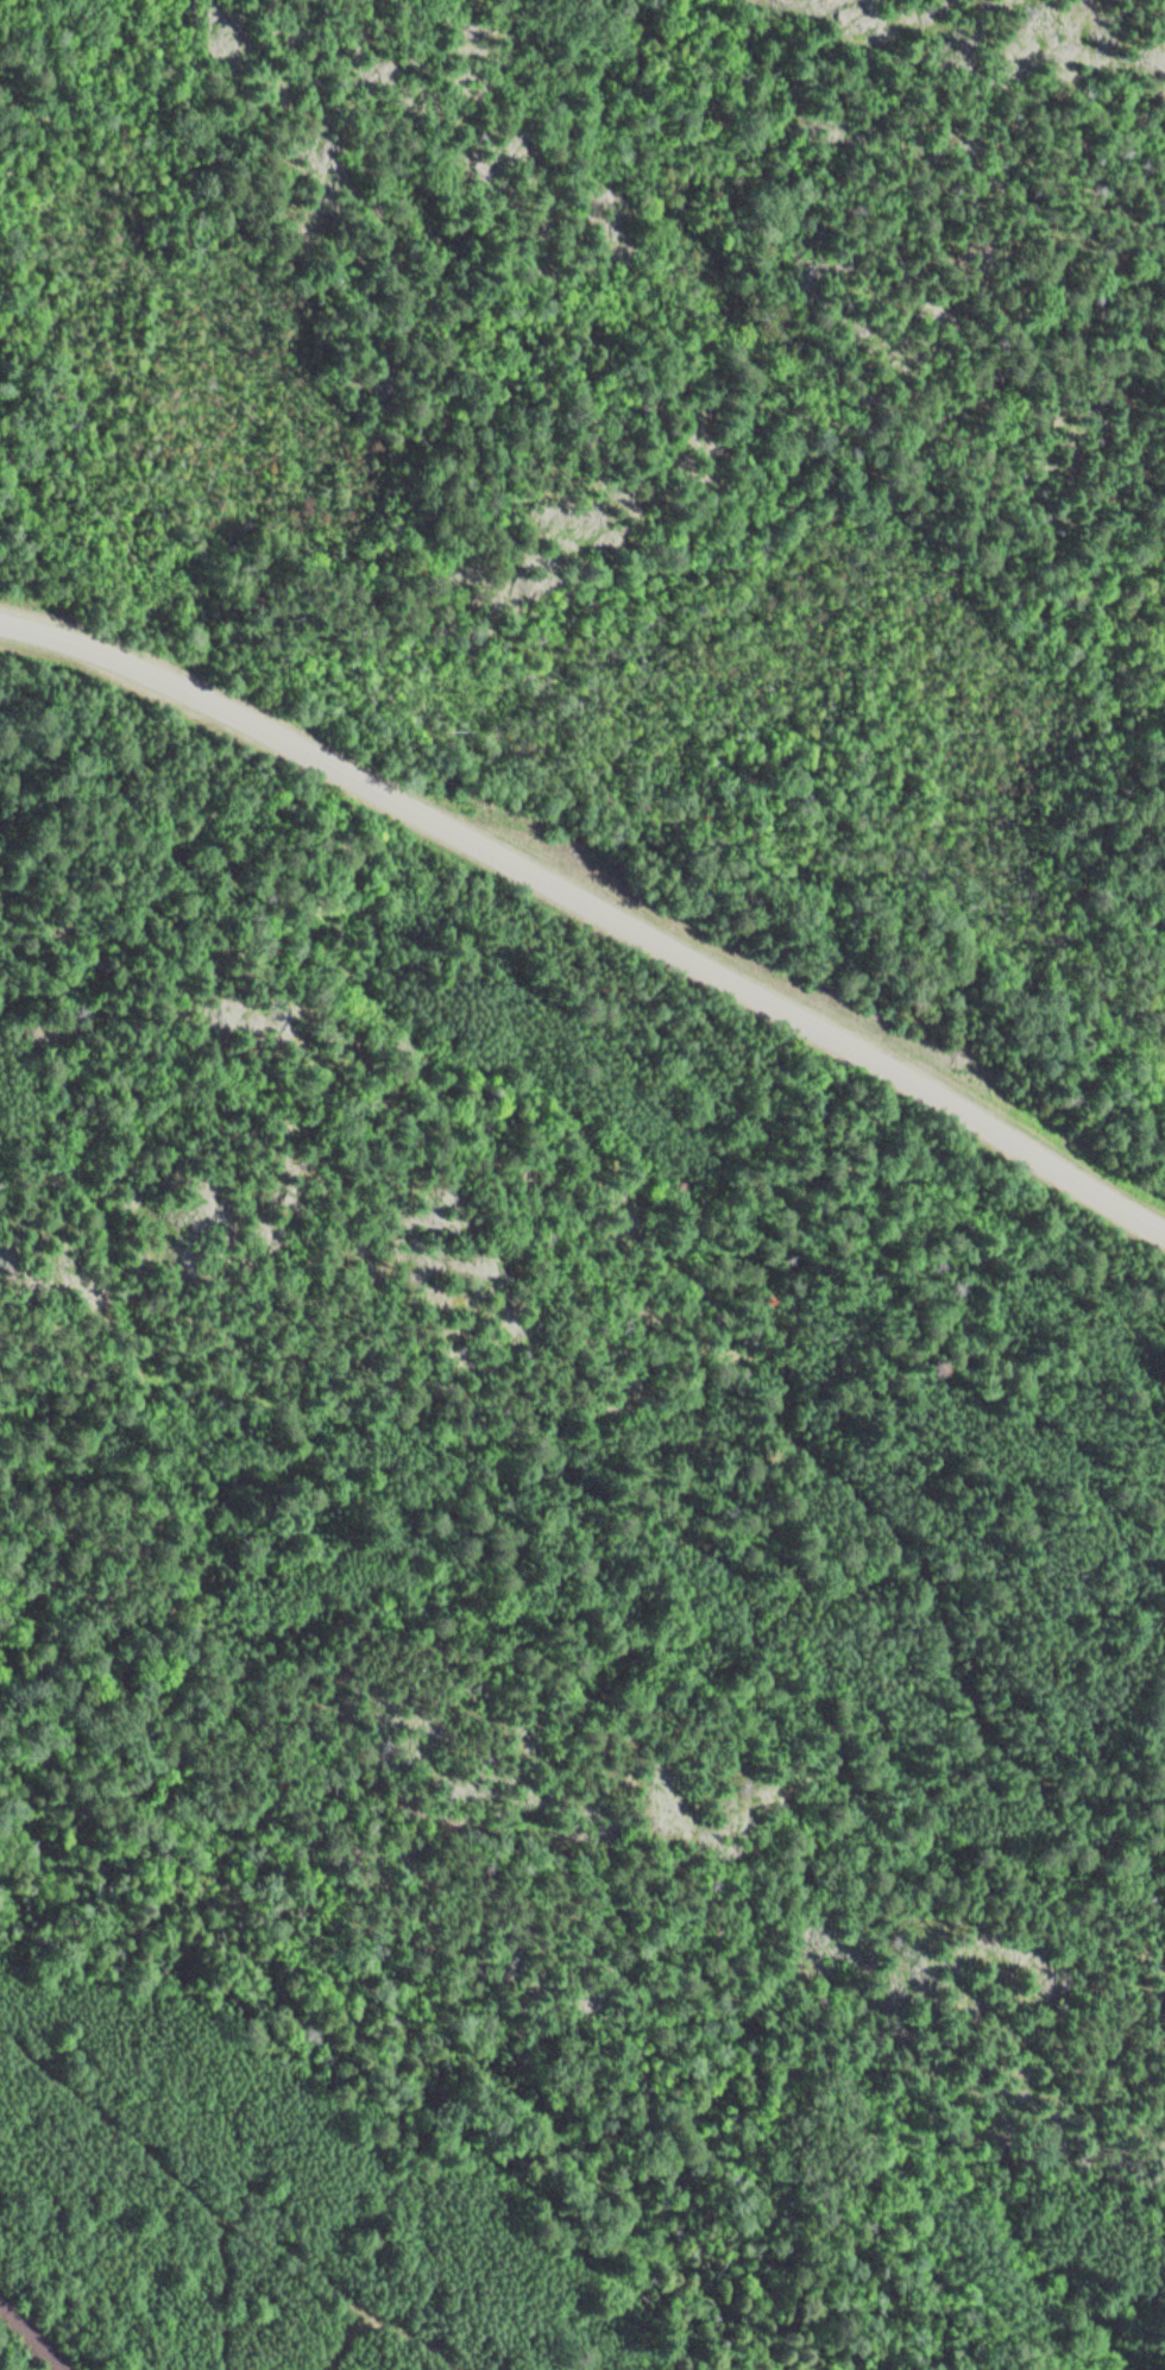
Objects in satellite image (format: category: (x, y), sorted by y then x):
road: (593, 906)
road: (468, 2032)
road: (171, 2168)
road: (389, 2325)
railway: (34, 2333)

